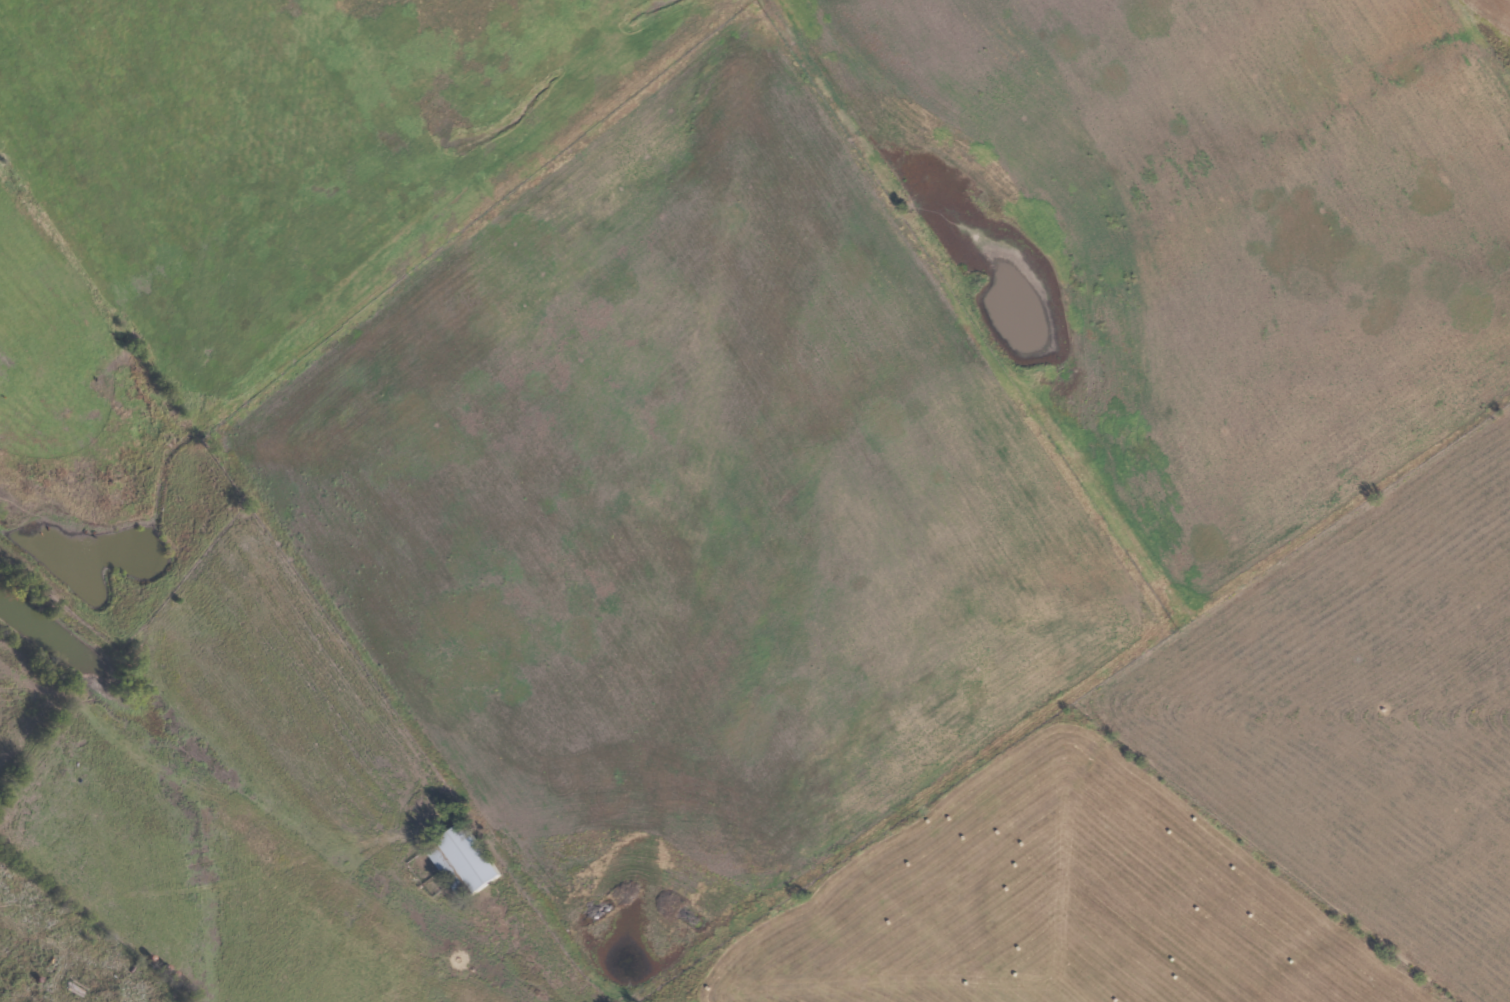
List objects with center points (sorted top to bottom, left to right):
railway: (266, 798)
building: (467, 863)

